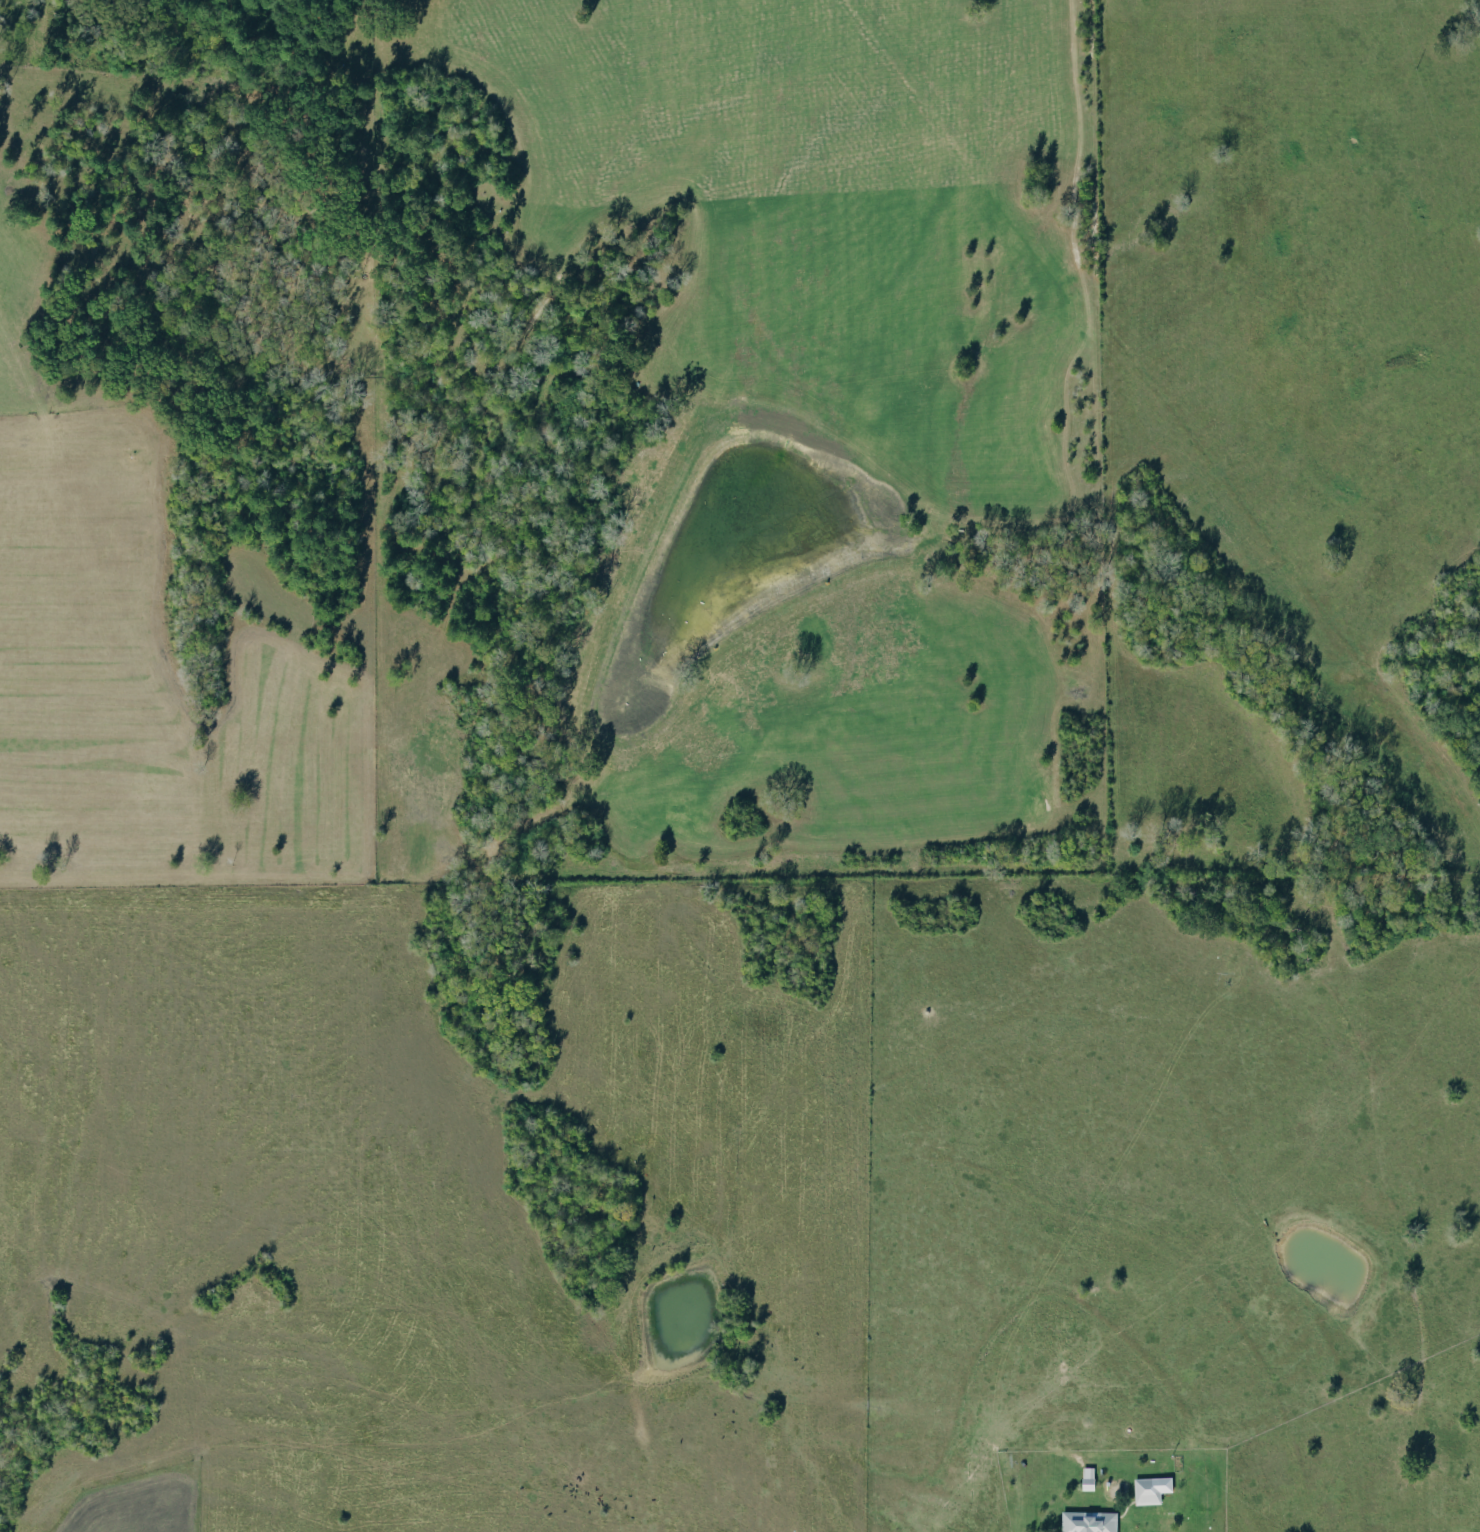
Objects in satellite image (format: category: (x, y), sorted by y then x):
building: (1153, 1489)
building: (1090, 1521)

